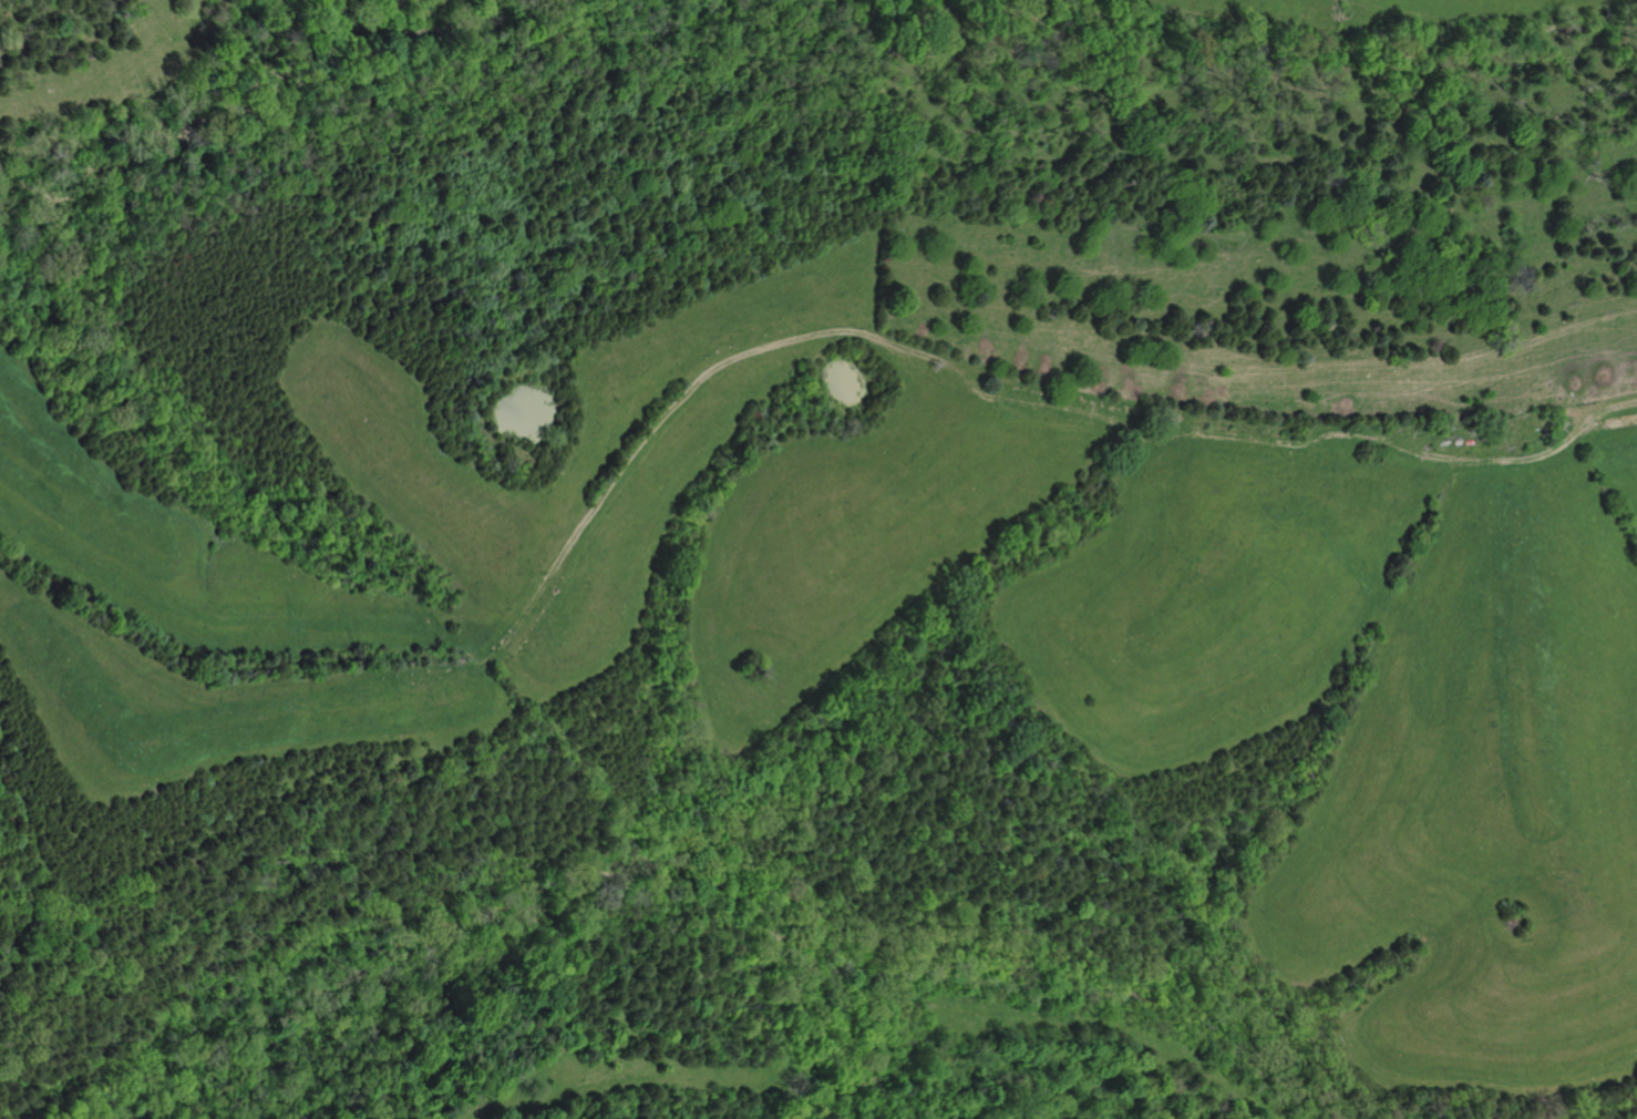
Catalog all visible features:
road: (1512, 461)

